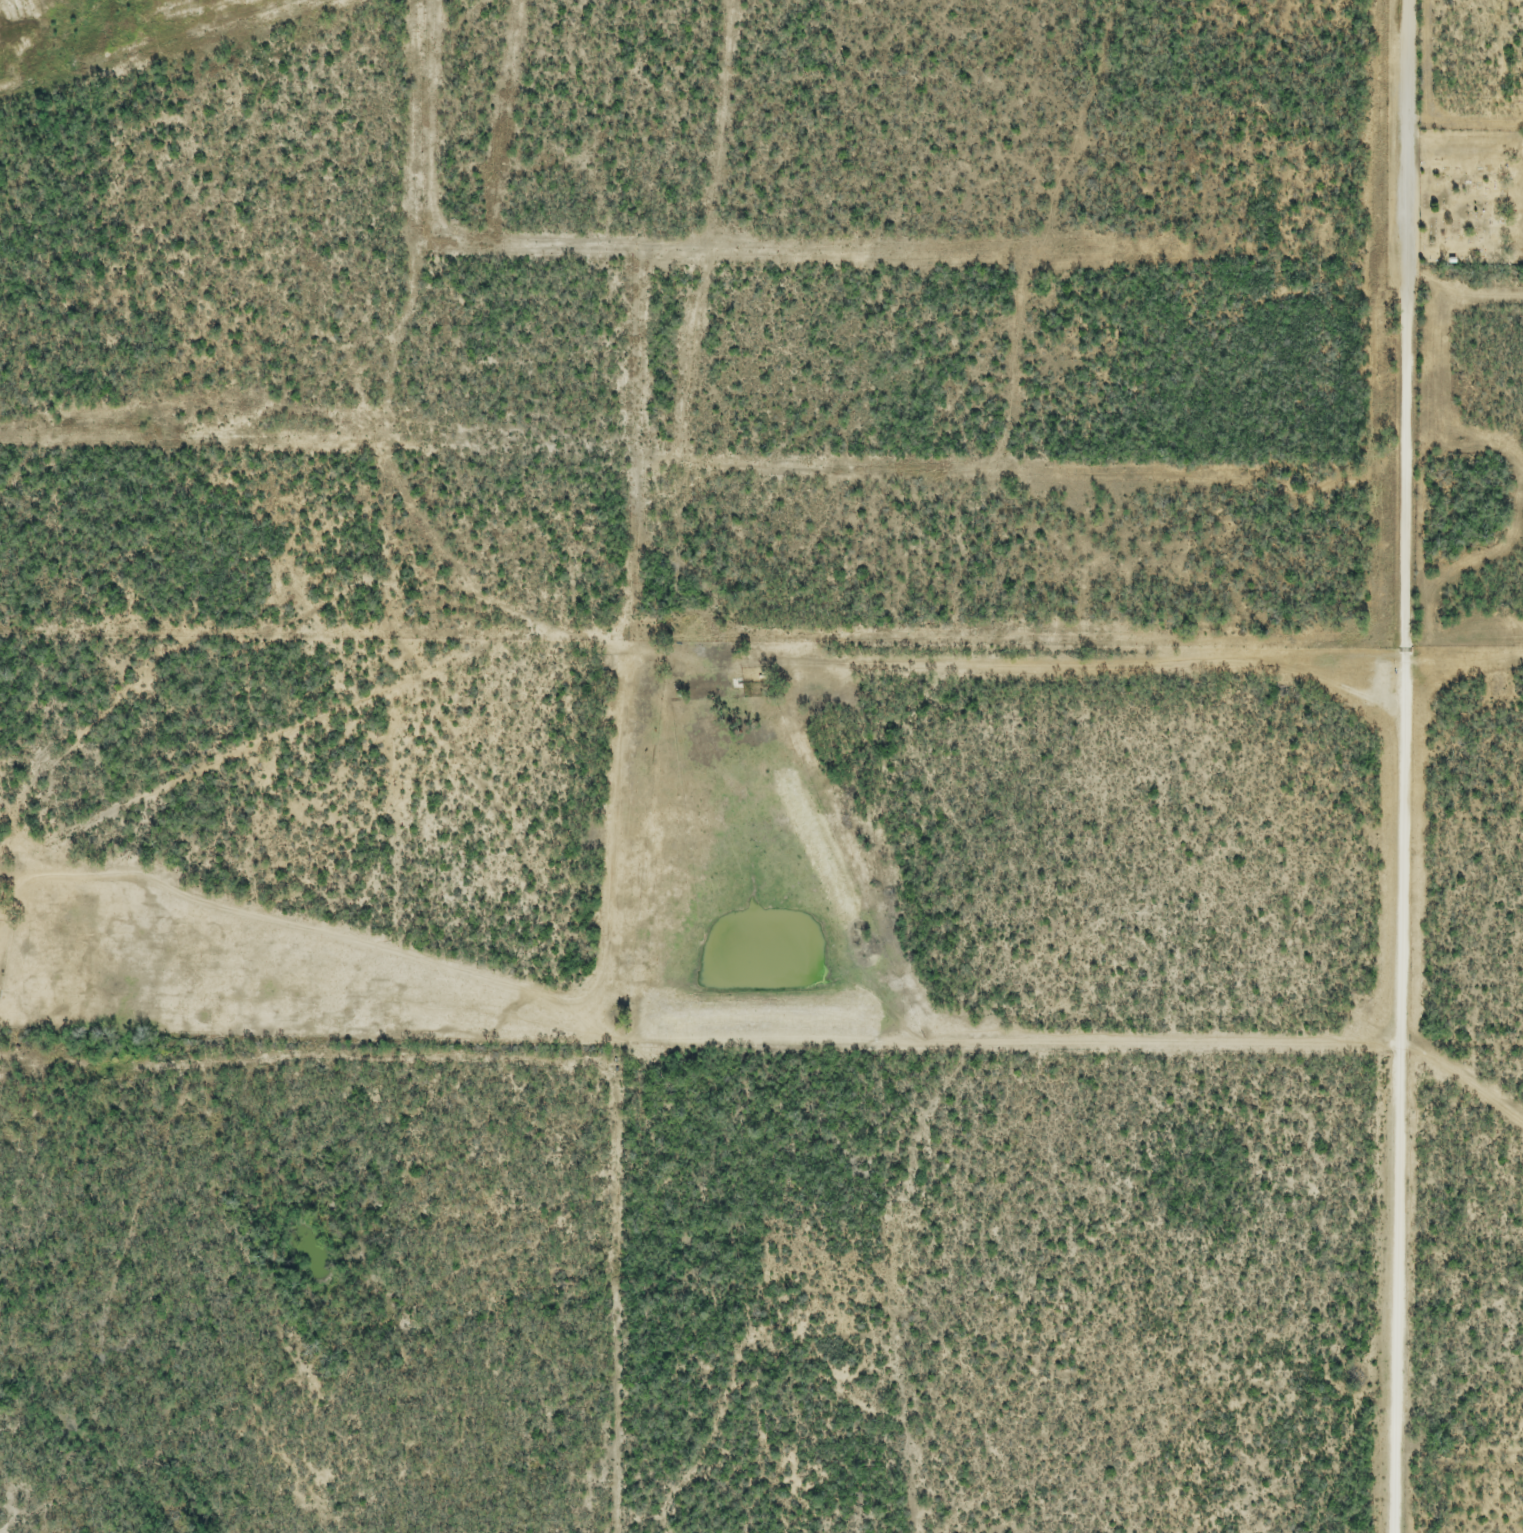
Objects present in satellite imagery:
park: (1470, 198)
road: (1404, 536)
road: (1390, 1303)

